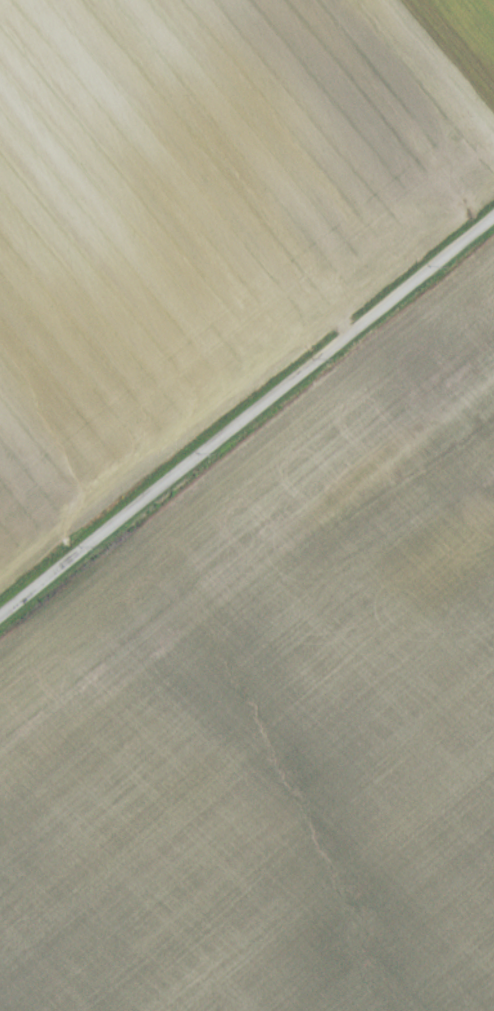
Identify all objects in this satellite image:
road: (246, 417)

